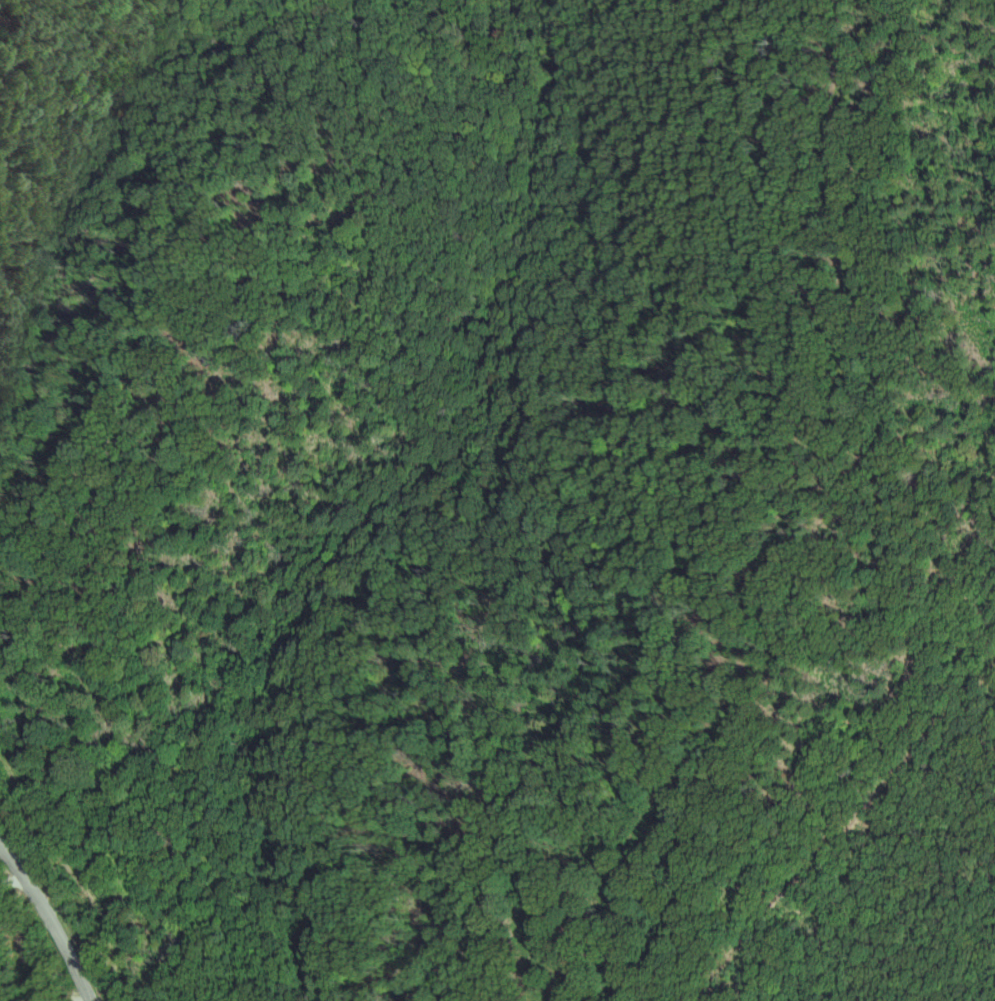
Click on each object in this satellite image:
road: (50, 924)
road: (79, 993)

